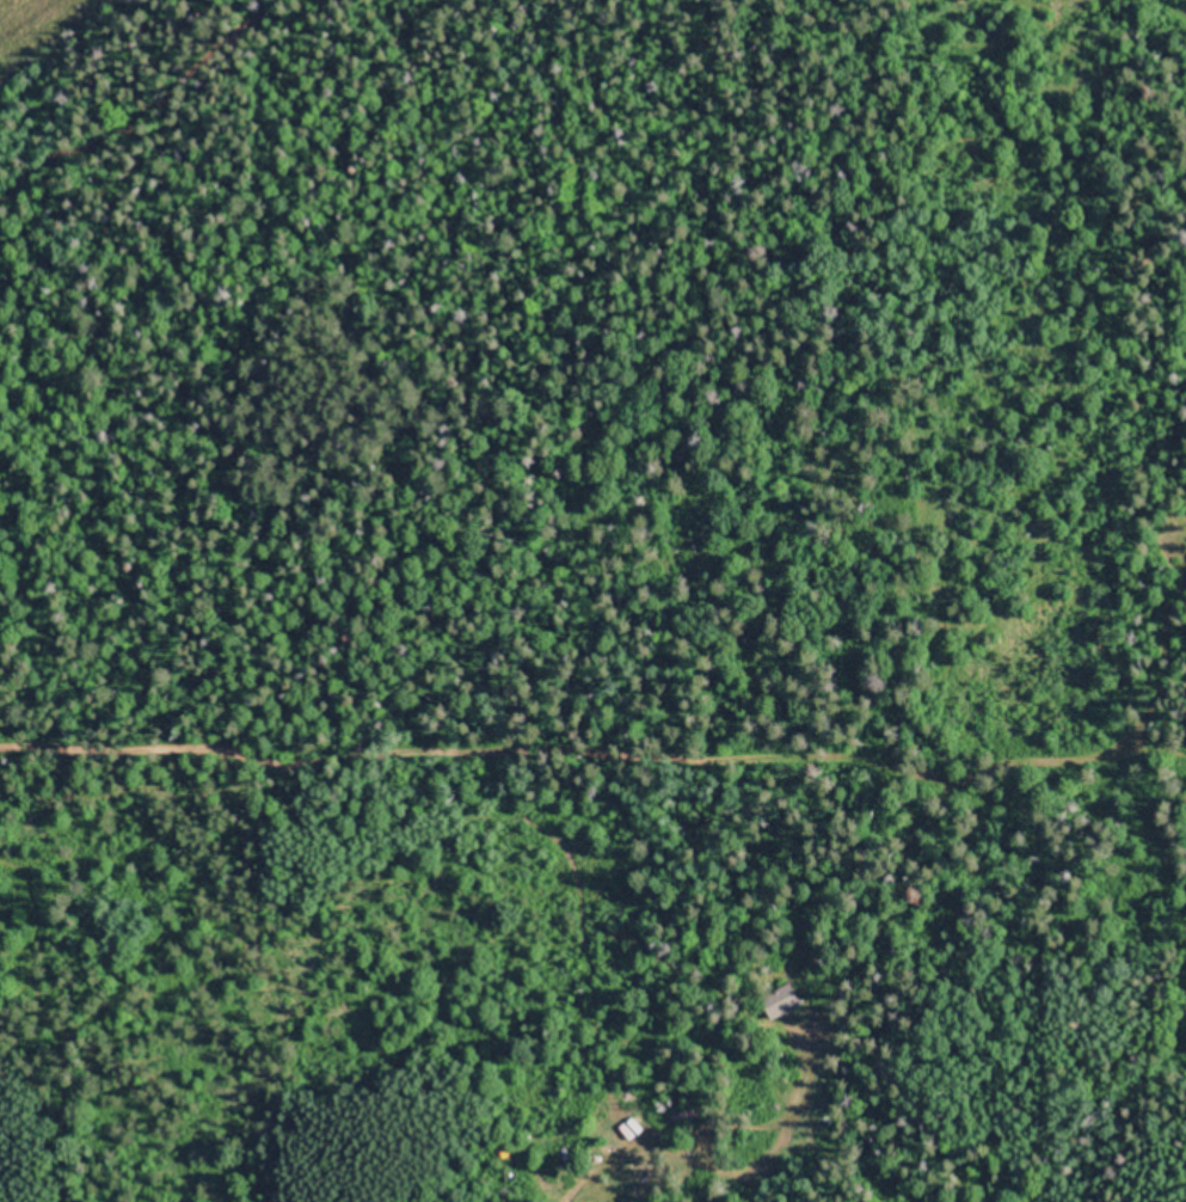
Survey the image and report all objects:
road: (121, 100)
building: (788, 1000)
road: (826, 1172)

